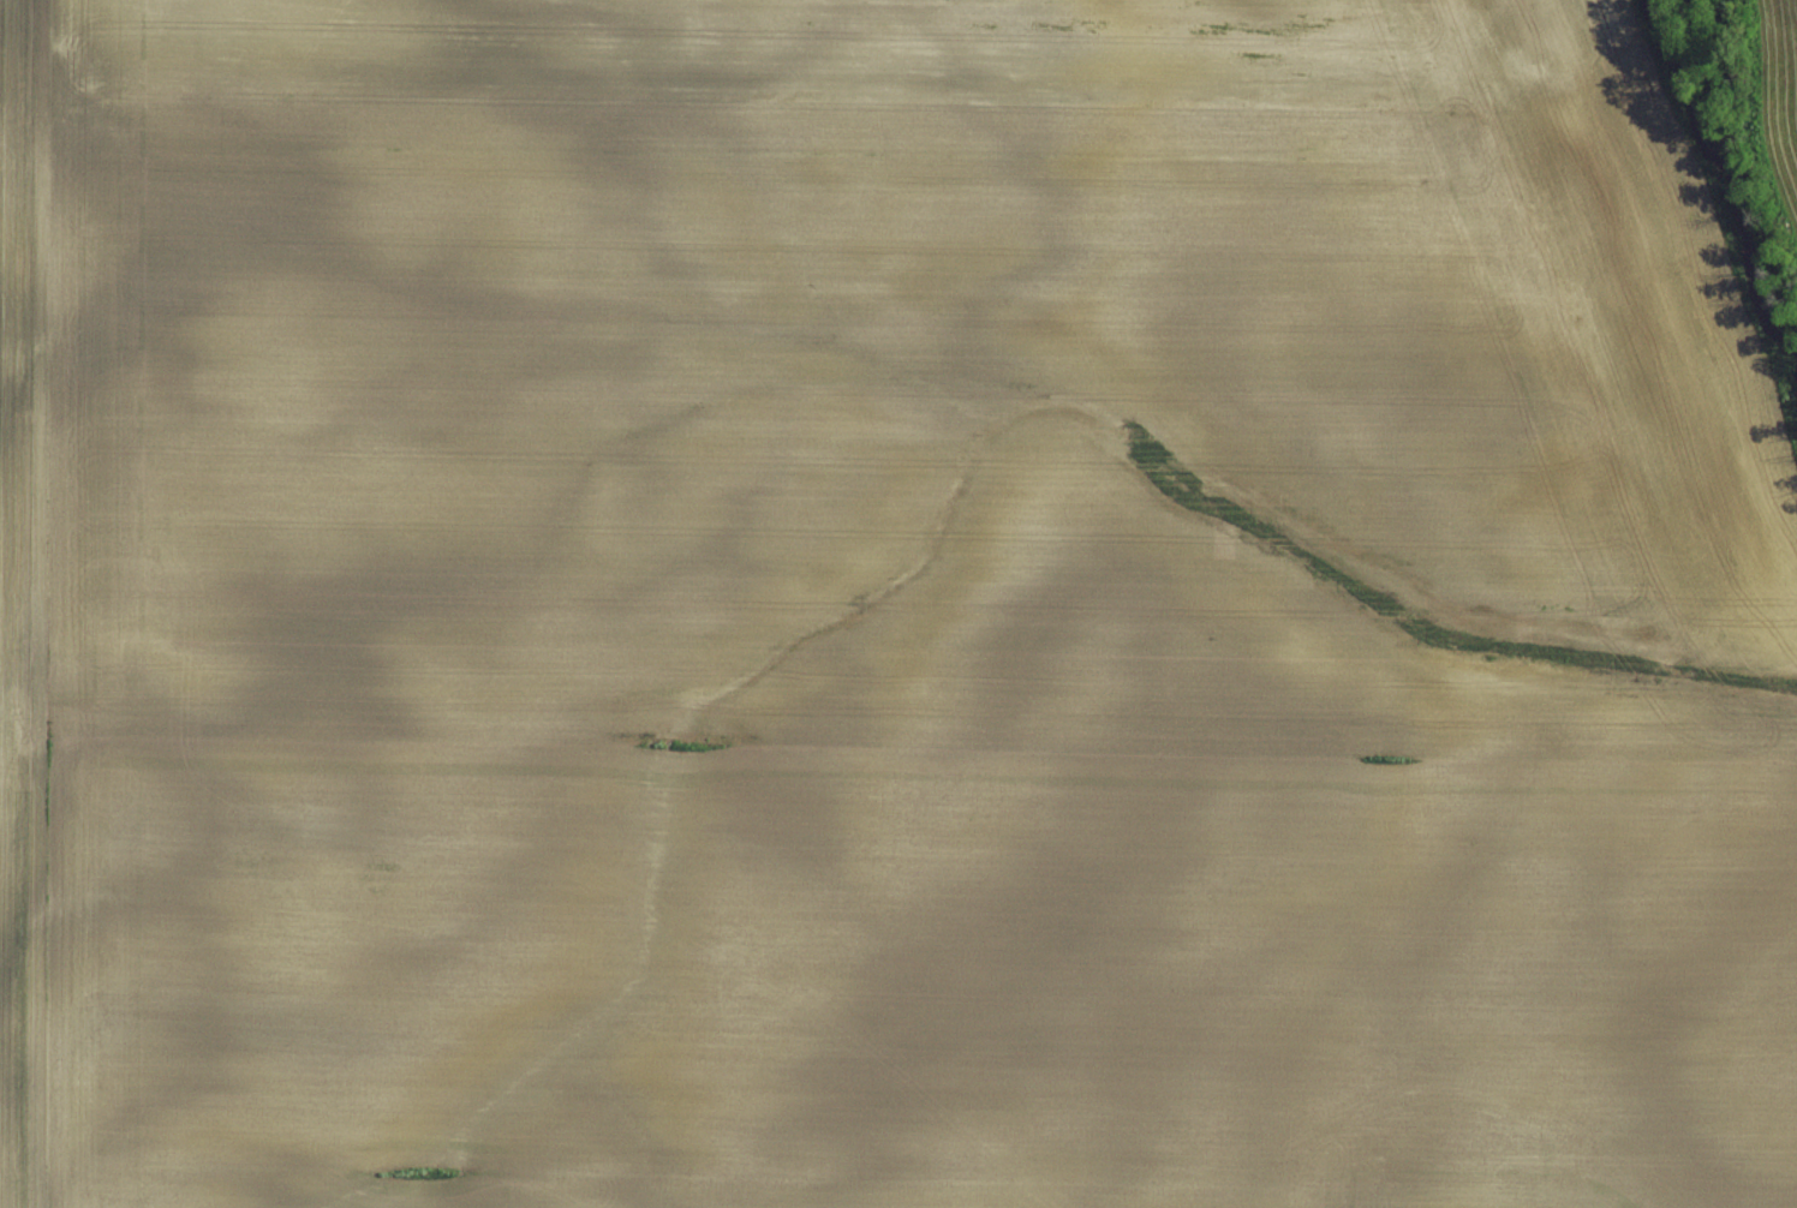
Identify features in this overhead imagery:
crop: (1777, 101)
crop: (886, 610)

